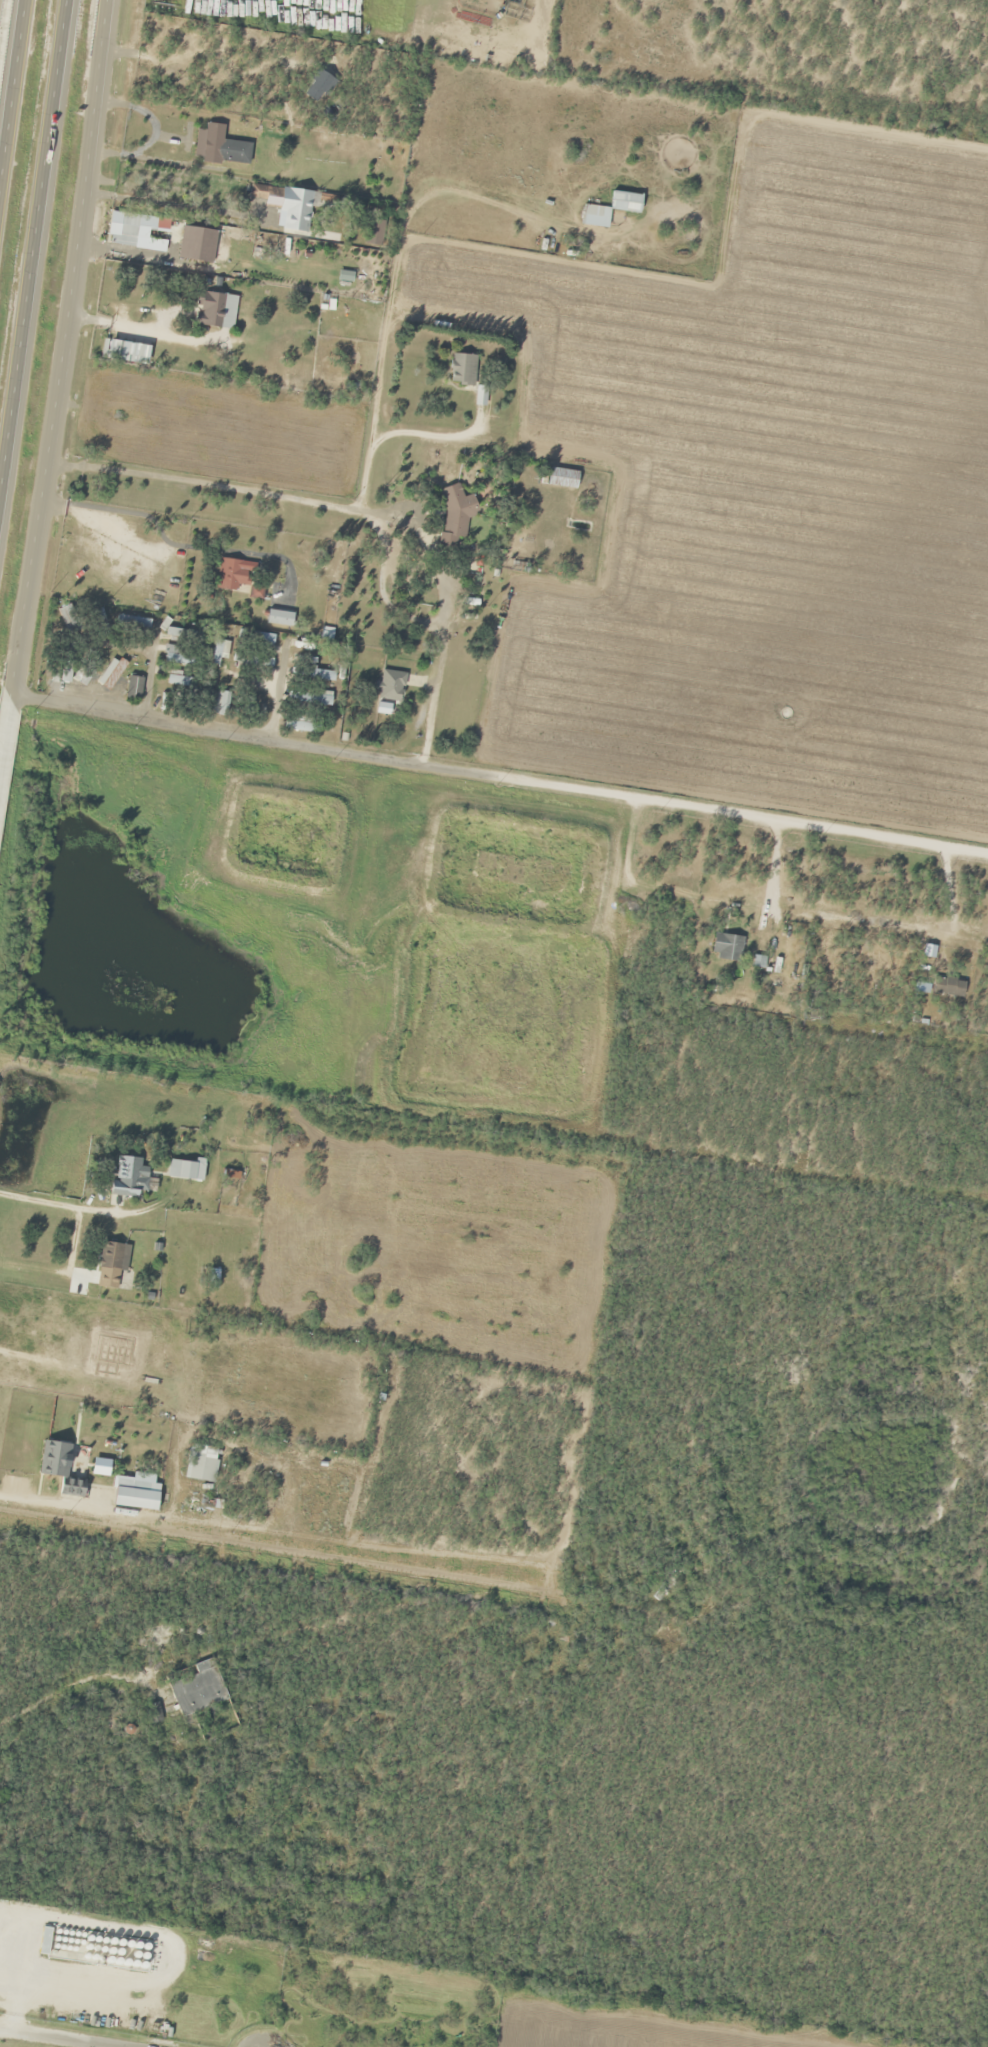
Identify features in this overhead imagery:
road: (10, 72)
building: (219, 146)
building: (285, 205)
building: (607, 208)
road: (30, 211)
building: (124, 229)
building: (197, 243)
building: (214, 310)
building: (124, 352)
road: (54, 364)
building: (459, 369)
building: (558, 478)
building: (453, 516)
building: (230, 576)
building: (279, 618)
building: (67, 619)
building: (97, 623)
building: (131, 624)
building: (181, 635)
building: (254, 638)
building: (219, 652)
building: (178, 657)
building: (250, 660)
building: (110, 674)
building: (317, 675)
building: (179, 682)
building: (390, 686)
building: (133, 688)
building: (177, 697)
building: (308, 698)
building: (220, 703)
building: (297, 723)
building: (291, 773)
road: (490, 855)
building: (724, 947)
building: (869, 964)
building: (945, 987)
building: (184, 1170)
building: (127, 1178)
road: (63, 1205)
building: (111, 1263)
building: (201, 1463)
building: (60, 1467)
building: (133, 1496)
road: (547, 1557)
building: (159, 1636)
building: (551, 1659)
building: (198, 1689)
road: (57, 2037)

